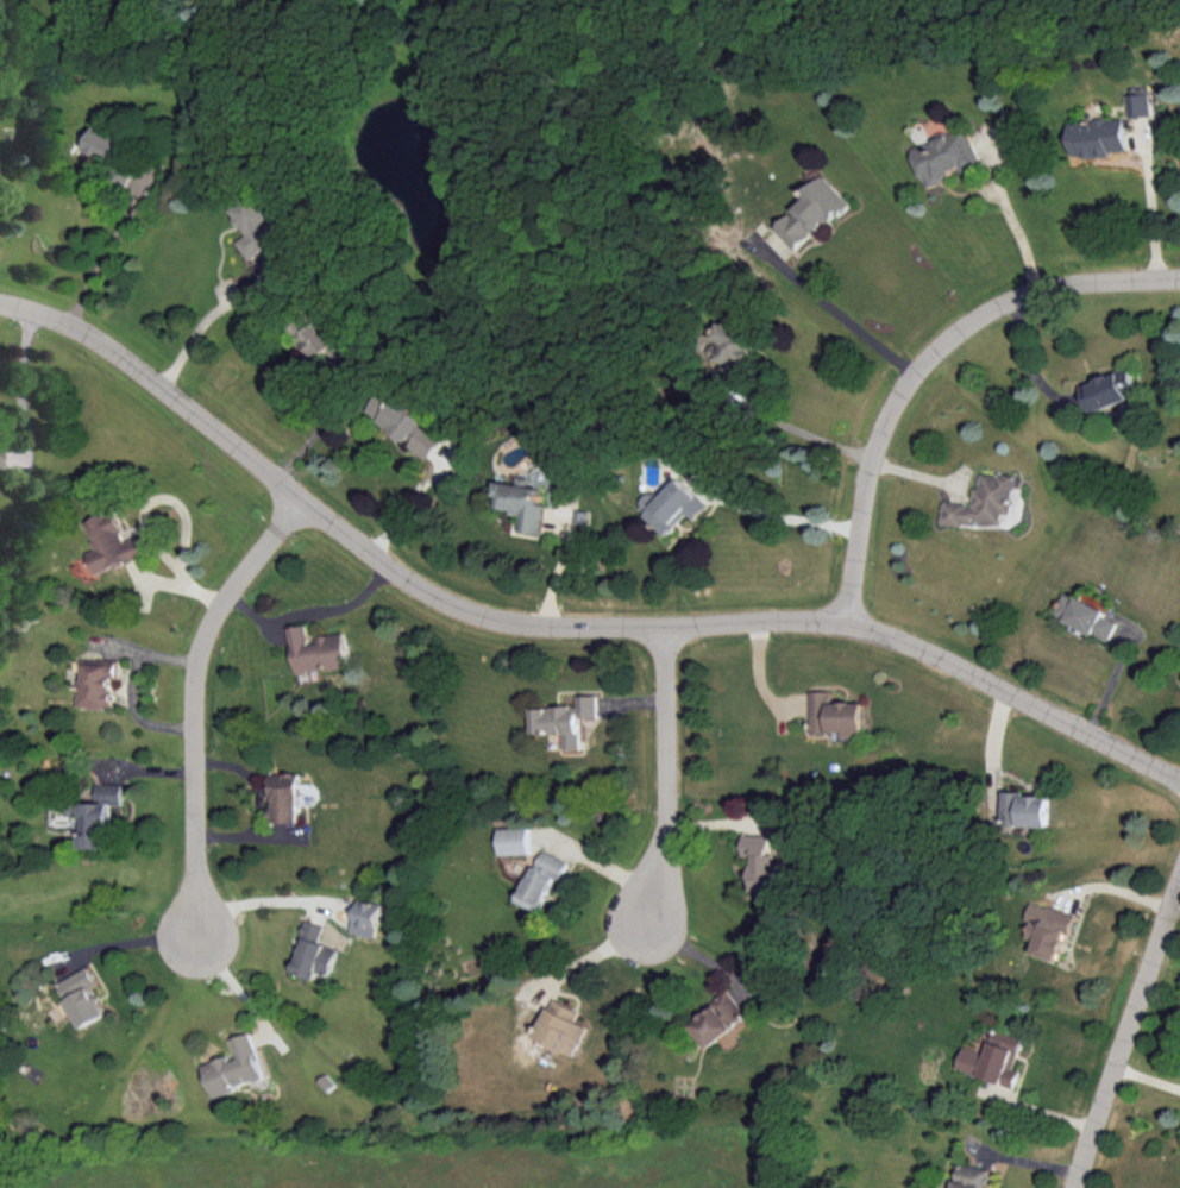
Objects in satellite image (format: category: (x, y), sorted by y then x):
building: (1142, 103)
building: (1099, 136)
building: (105, 142)
building: (949, 155)
building: (812, 212)
road: (1153, 214)
building: (258, 225)
road: (1019, 235)
road: (108, 252)
road: (845, 318)
road: (196, 328)
building: (321, 340)
building: (733, 342)
road: (928, 363)
building: (1110, 388)
road: (19, 389)
building: (409, 421)
road: (805, 432)
building: (984, 501)
building: (523, 502)
building: (672, 504)
road: (146, 516)
road: (786, 518)
building: (113, 542)
road: (314, 612)
building: (1085, 615)
road: (558, 623)
building: (318, 649)
building: (98, 683)
road: (133, 687)
road: (196, 700)
building: (837, 715)
building: (565, 718)
road: (667, 778)
building: (109, 791)
building: (285, 796)
road: (261, 804)
building: (1027, 807)
building: (95, 823)
building: (515, 840)
building: (761, 860)
building: (541, 879)
road: (262, 901)
road: (1174, 911)
building: (366, 916)
building: (1048, 928)
road: (131, 942)
building: (314, 951)
road: (237, 986)
building: (83, 995)
building: (718, 1018)
building: (563, 1025)
road: (1125, 1033)
building: (994, 1057)
building: (236, 1066)
building: (971, 1175)

